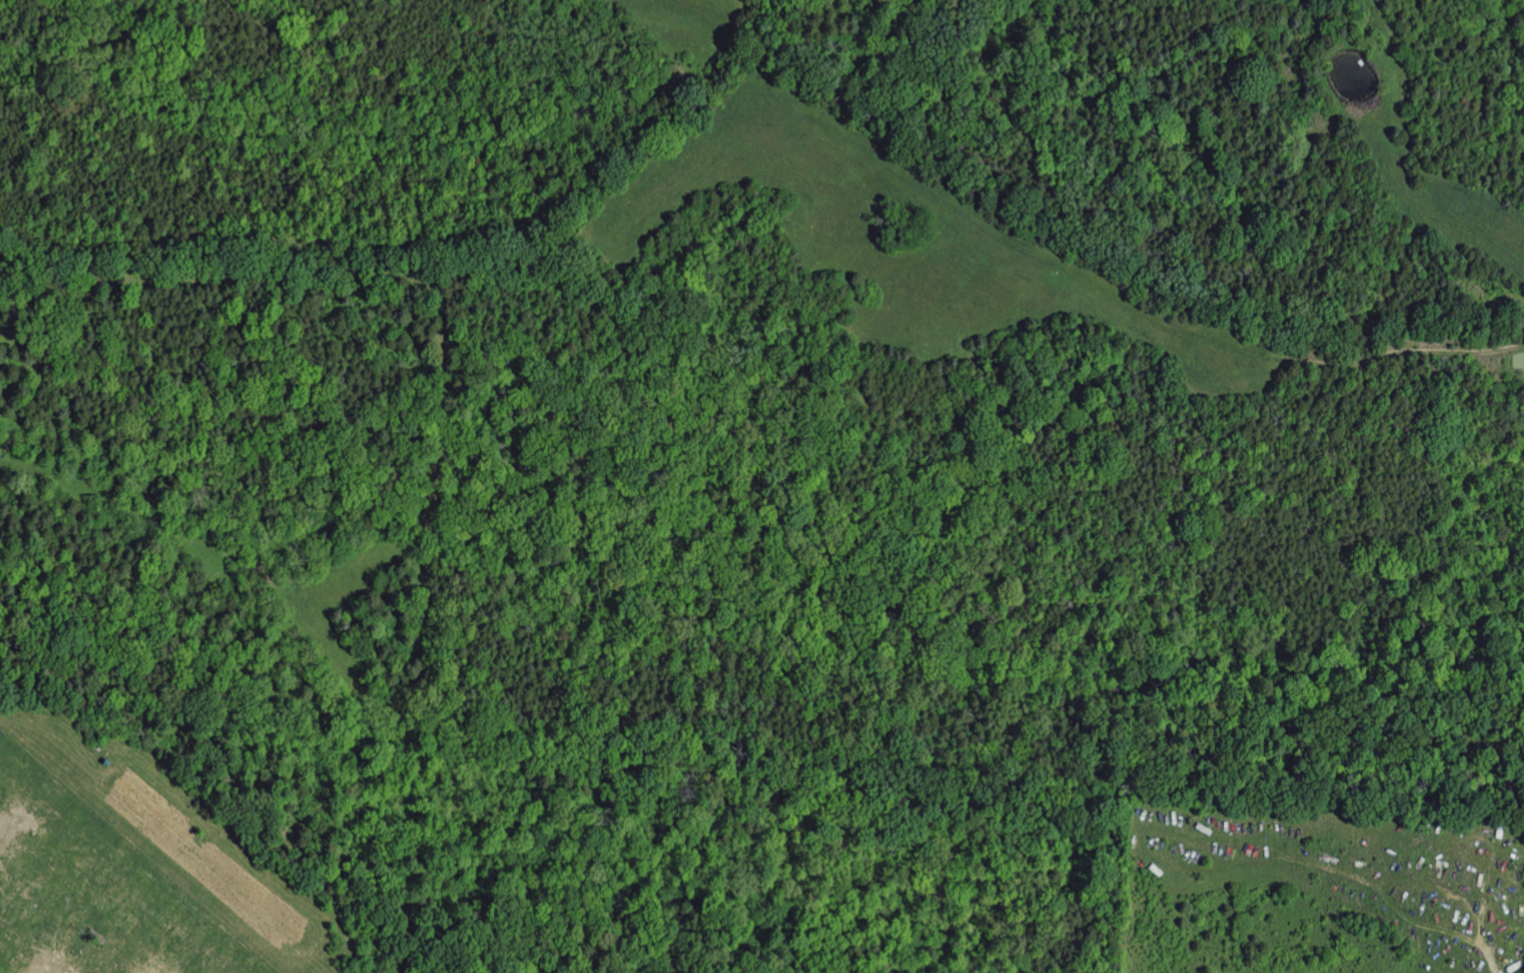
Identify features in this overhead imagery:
road: (1489, 959)

